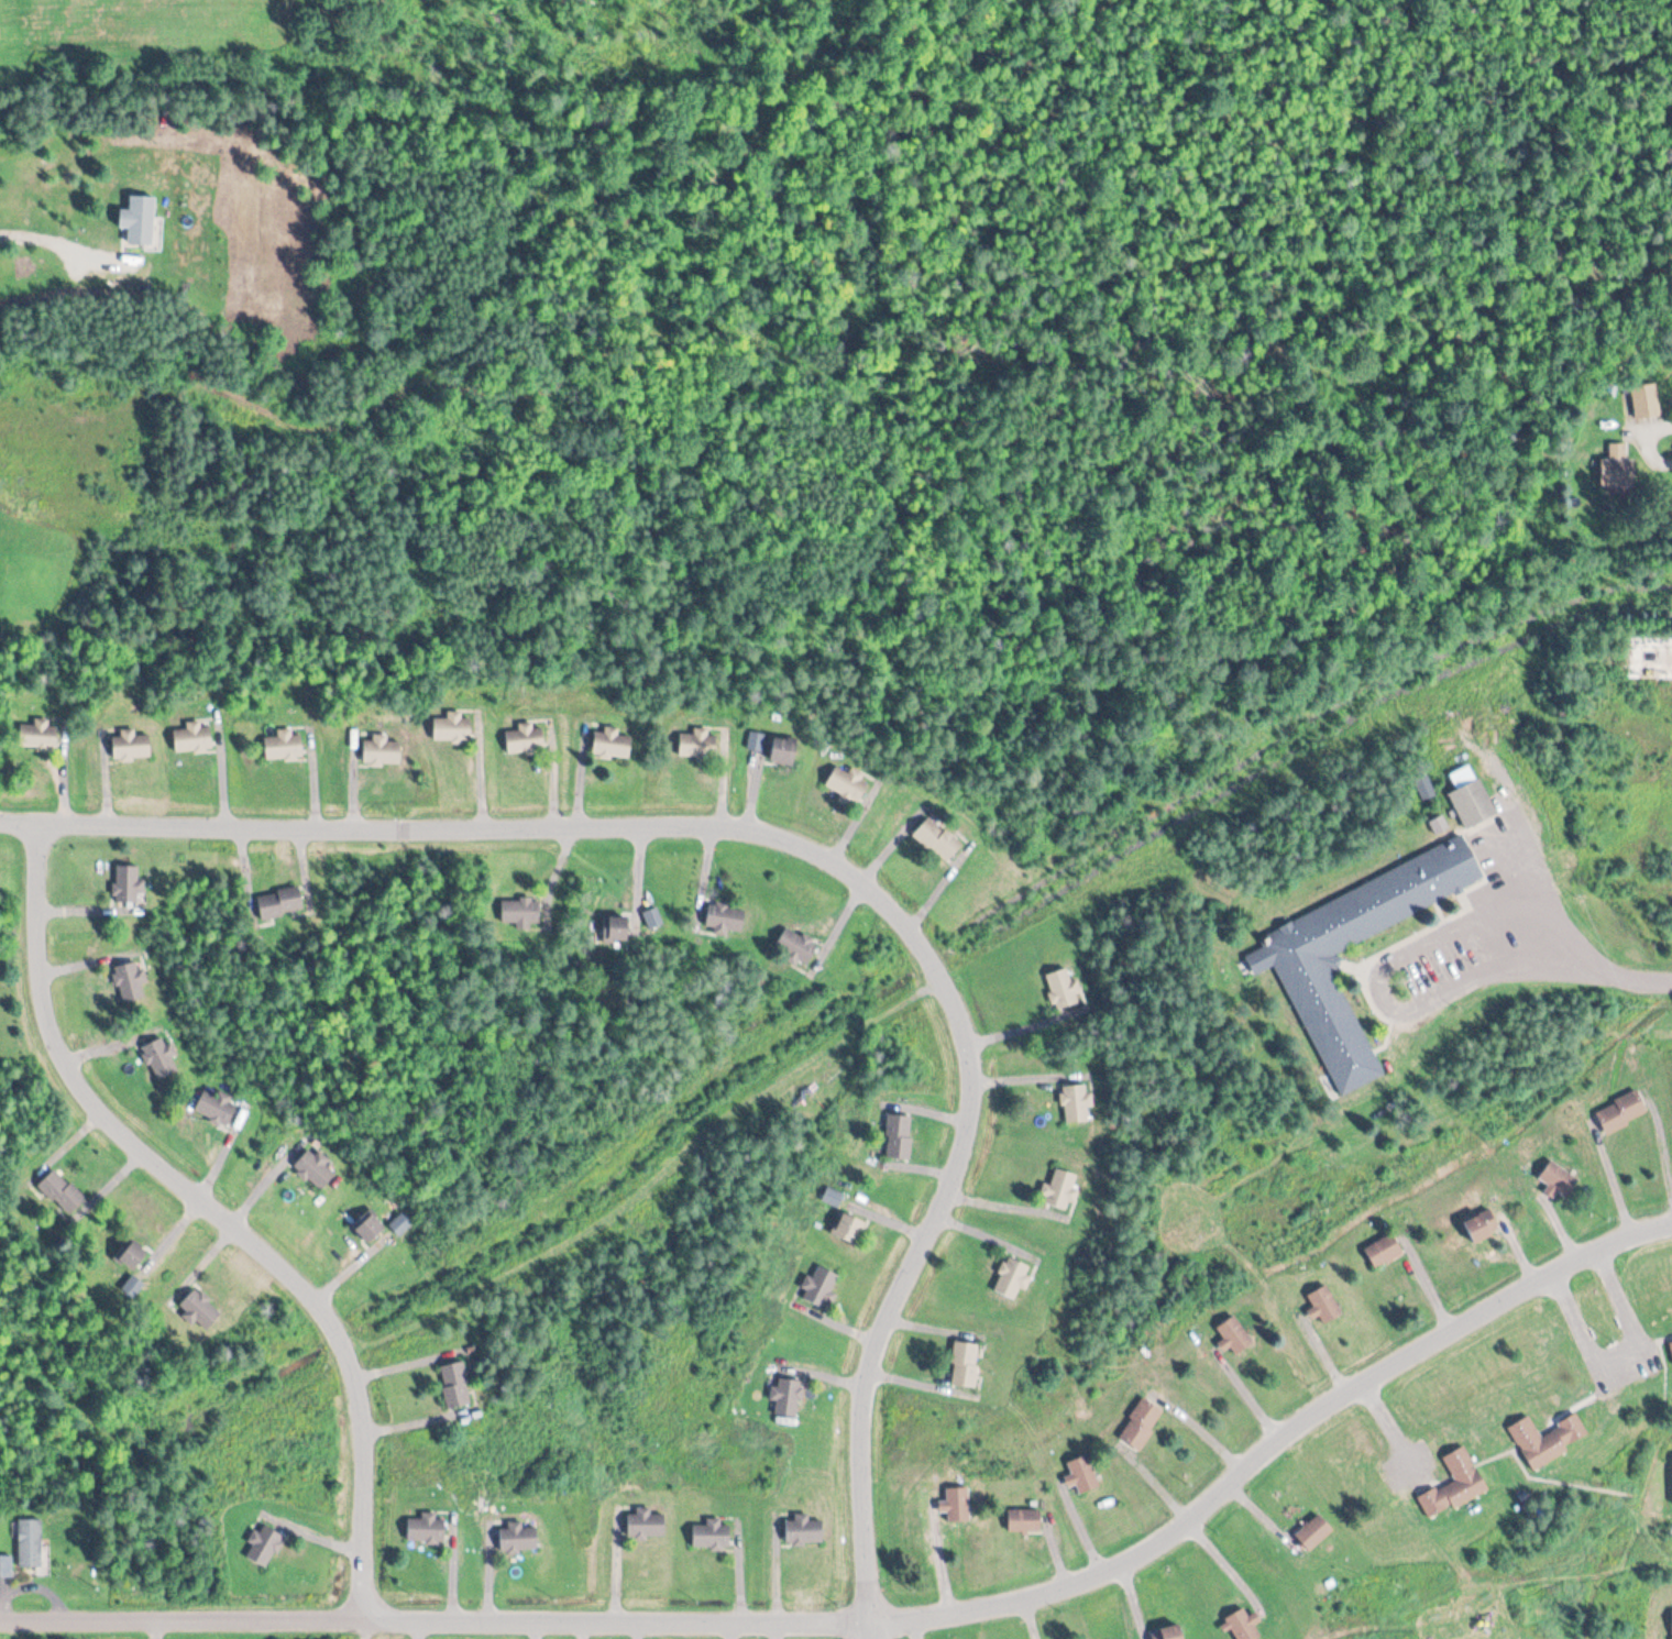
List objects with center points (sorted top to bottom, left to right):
building: (139, 219)
road: (1659, 424)
building: (1618, 466)
building: (1651, 656)
building: (453, 727)
building: (37, 735)
building: (526, 738)
building: (759, 741)
building: (698, 743)
building: (612, 744)
building: (284, 745)
building: (131, 746)
building: (783, 749)
building: (382, 751)
building: (1423, 784)
building: (847, 785)
building: (1472, 801)
building: (938, 839)
road: (839, 861)
building: (129, 886)
building: (280, 902)
building: (519, 912)
building: (653, 917)
building: (725, 917)
building: (617, 928)
building: (795, 946)
building: (1302, 964)
road: (1380, 975)
building: (131, 981)
road: (1649, 981)
building: (1064, 988)
building: (159, 1058)
building: (1076, 1103)
building: (216, 1105)
building: (1621, 1112)
building: (905, 1137)
building: (316, 1169)
building: (1560, 1179)
building: (1059, 1189)
building: (62, 1192)
building: (403, 1223)
building: (1483, 1226)
building: (370, 1228)
building: (1384, 1251)
building: (133, 1256)
building: (1011, 1278)
building: (820, 1288)
building: (132, 1289)
building: (1325, 1307)
building: (200, 1310)
building: (1234, 1335)
building: (1671, 1345)
building: (966, 1364)
building: (455, 1385)
building: (785, 1397)
building: (1141, 1423)
building: (1548, 1439)
building: (1082, 1474)
building: (1455, 1484)
building: (957, 1504)
building: (1024, 1520)
building: (646, 1525)
building: (426, 1528)
building: (803, 1529)
building: (1314, 1531)
building: (711, 1535)
building: (518, 1537)
building: (30, 1542)
building: (263, 1546)
building: (5, 1565)
road: (193, 1620)
road: (617, 1620)
building: (1244, 1625)
building: (1168, 1632)

